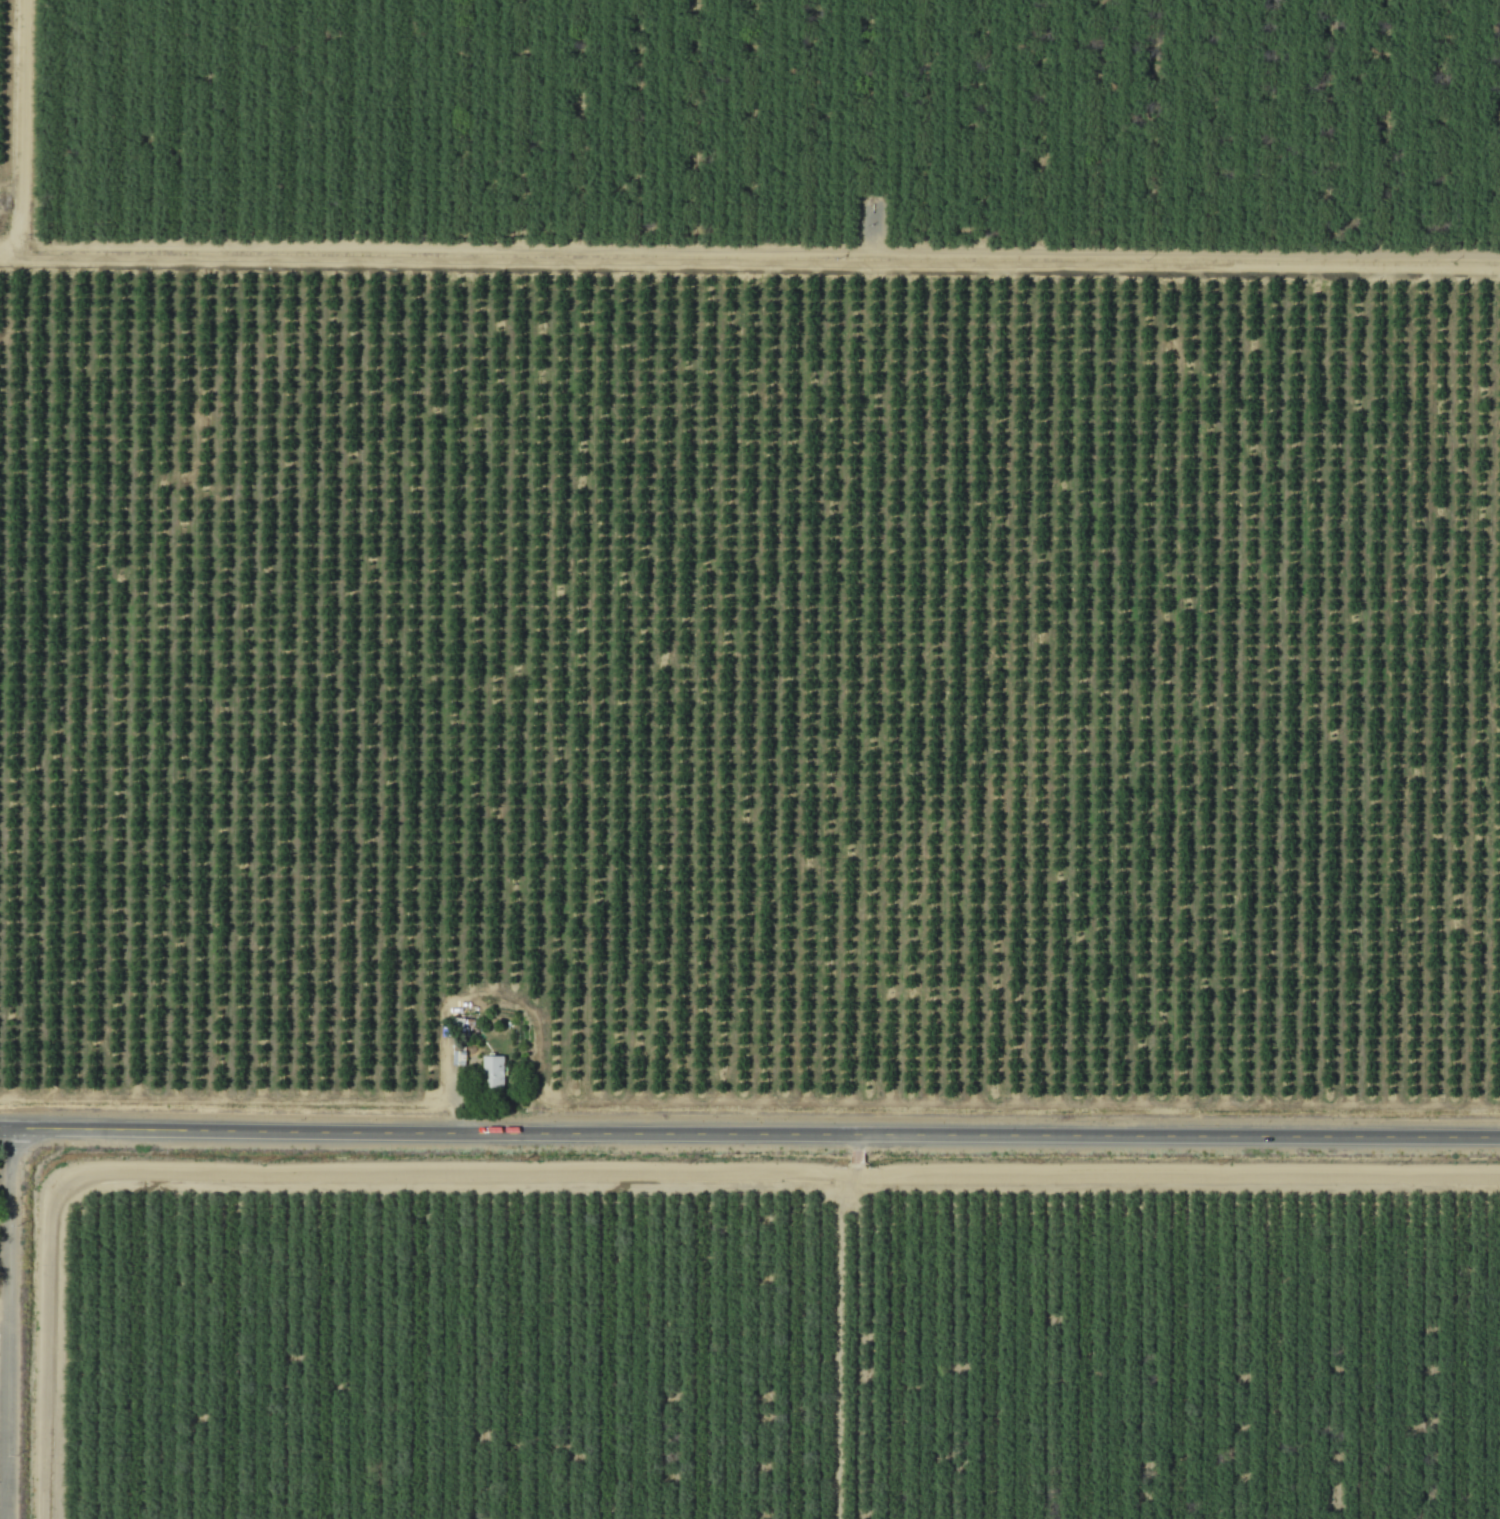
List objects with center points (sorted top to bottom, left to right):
building: (494, 1072)
road: (5, 1126)
road: (755, 1132)
road: (6, 1322)

